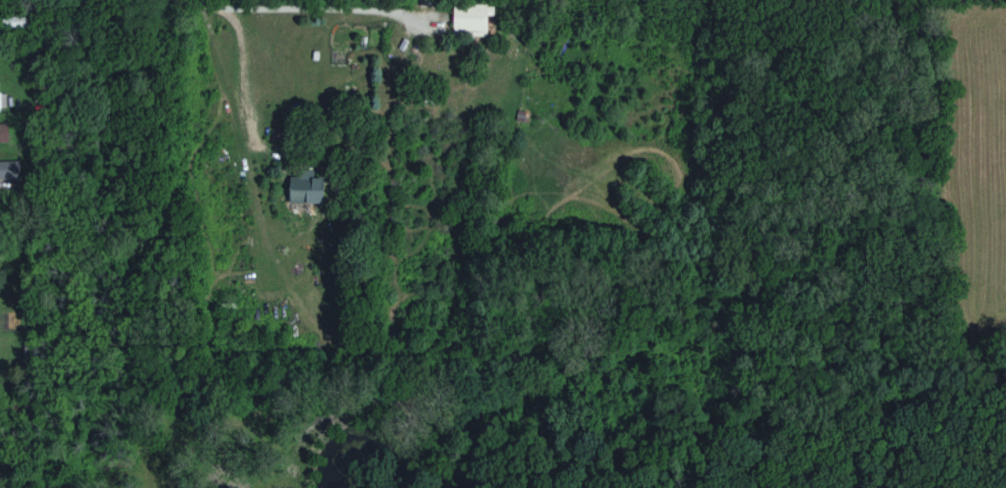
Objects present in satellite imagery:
road: (285, 6)
building: (468, 18)
road: (334, 91)
building: (0, 94)
building: (3, 132)
building: (9, 171)
building: (304, 189)

